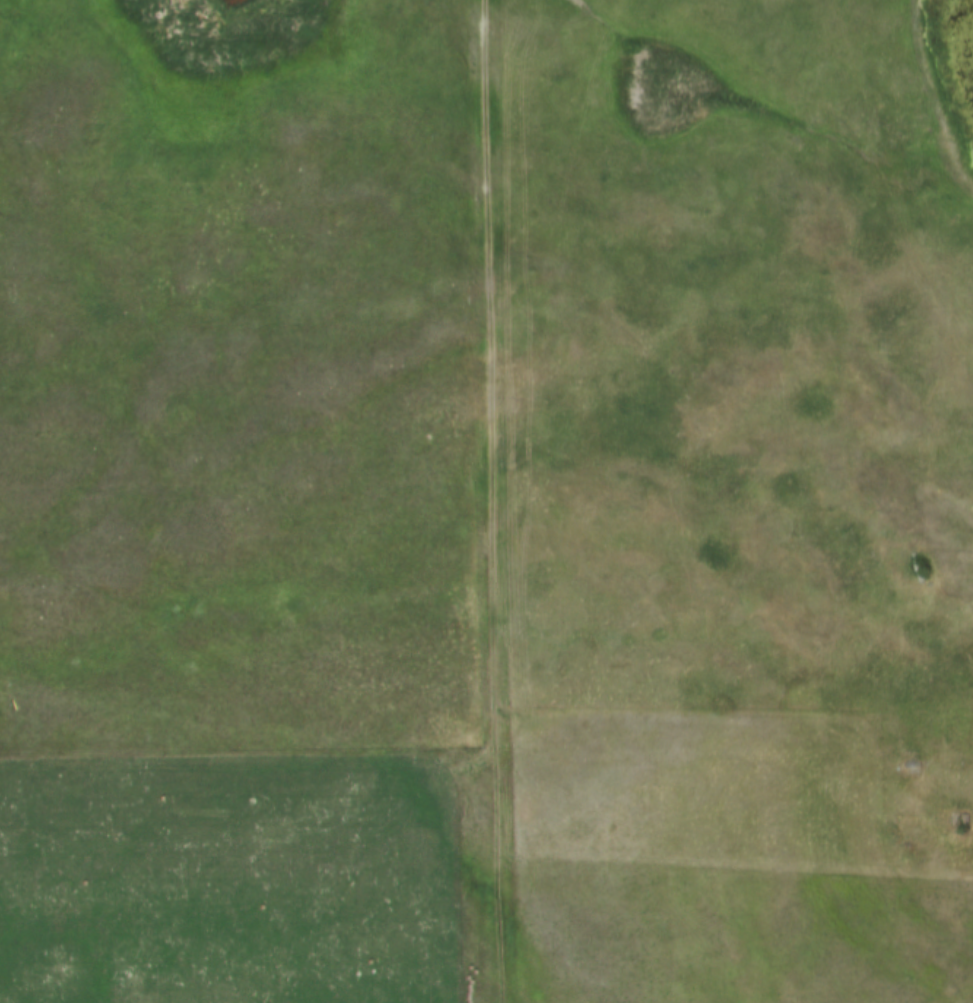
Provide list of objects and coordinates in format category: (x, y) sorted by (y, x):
road: (507, 501)
building: (912, 765)

